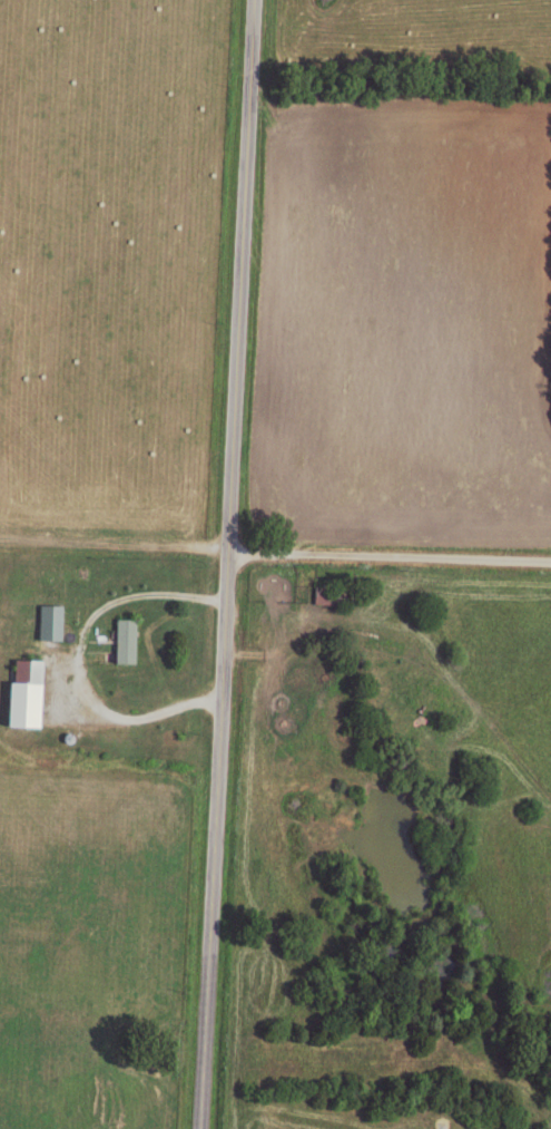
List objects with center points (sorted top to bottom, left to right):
road: (387, 557)
road: (223, 564)
building: (52, 619)
road: (65, 653)
building: (29, 691)
road: (166, 709)

